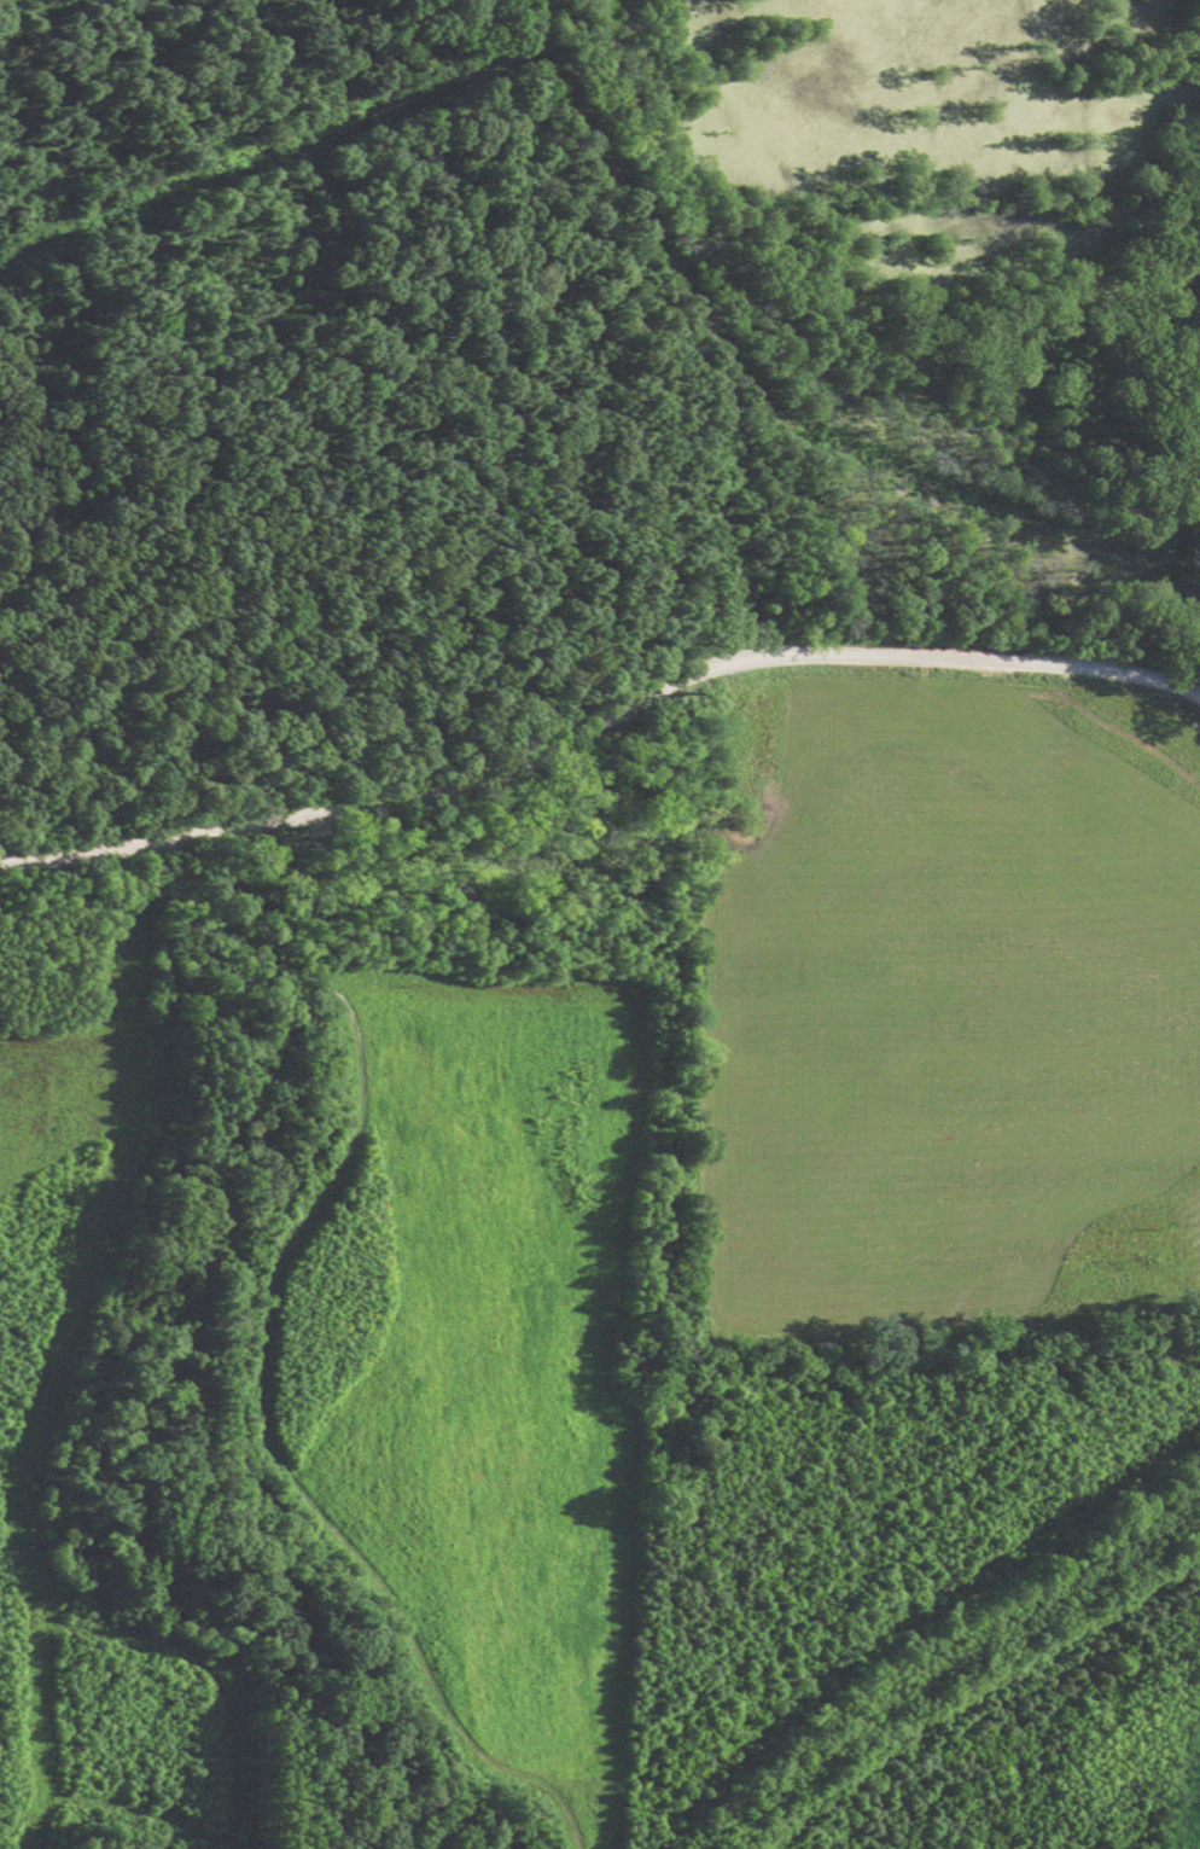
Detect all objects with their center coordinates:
road: (599, 725)

